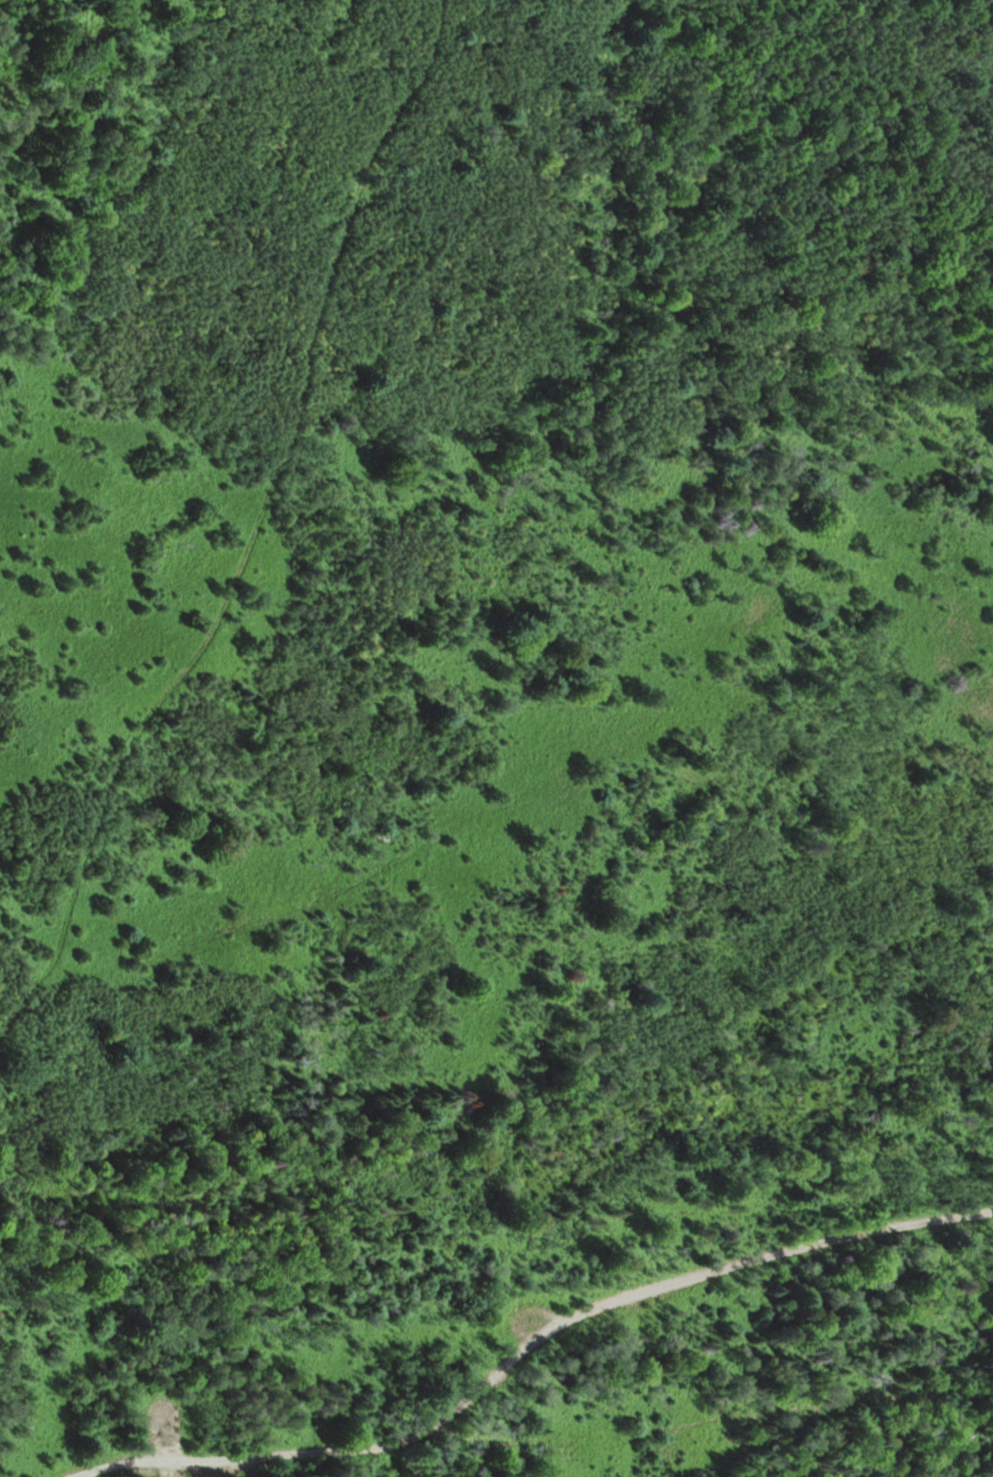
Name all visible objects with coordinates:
road: (687, 1309)

